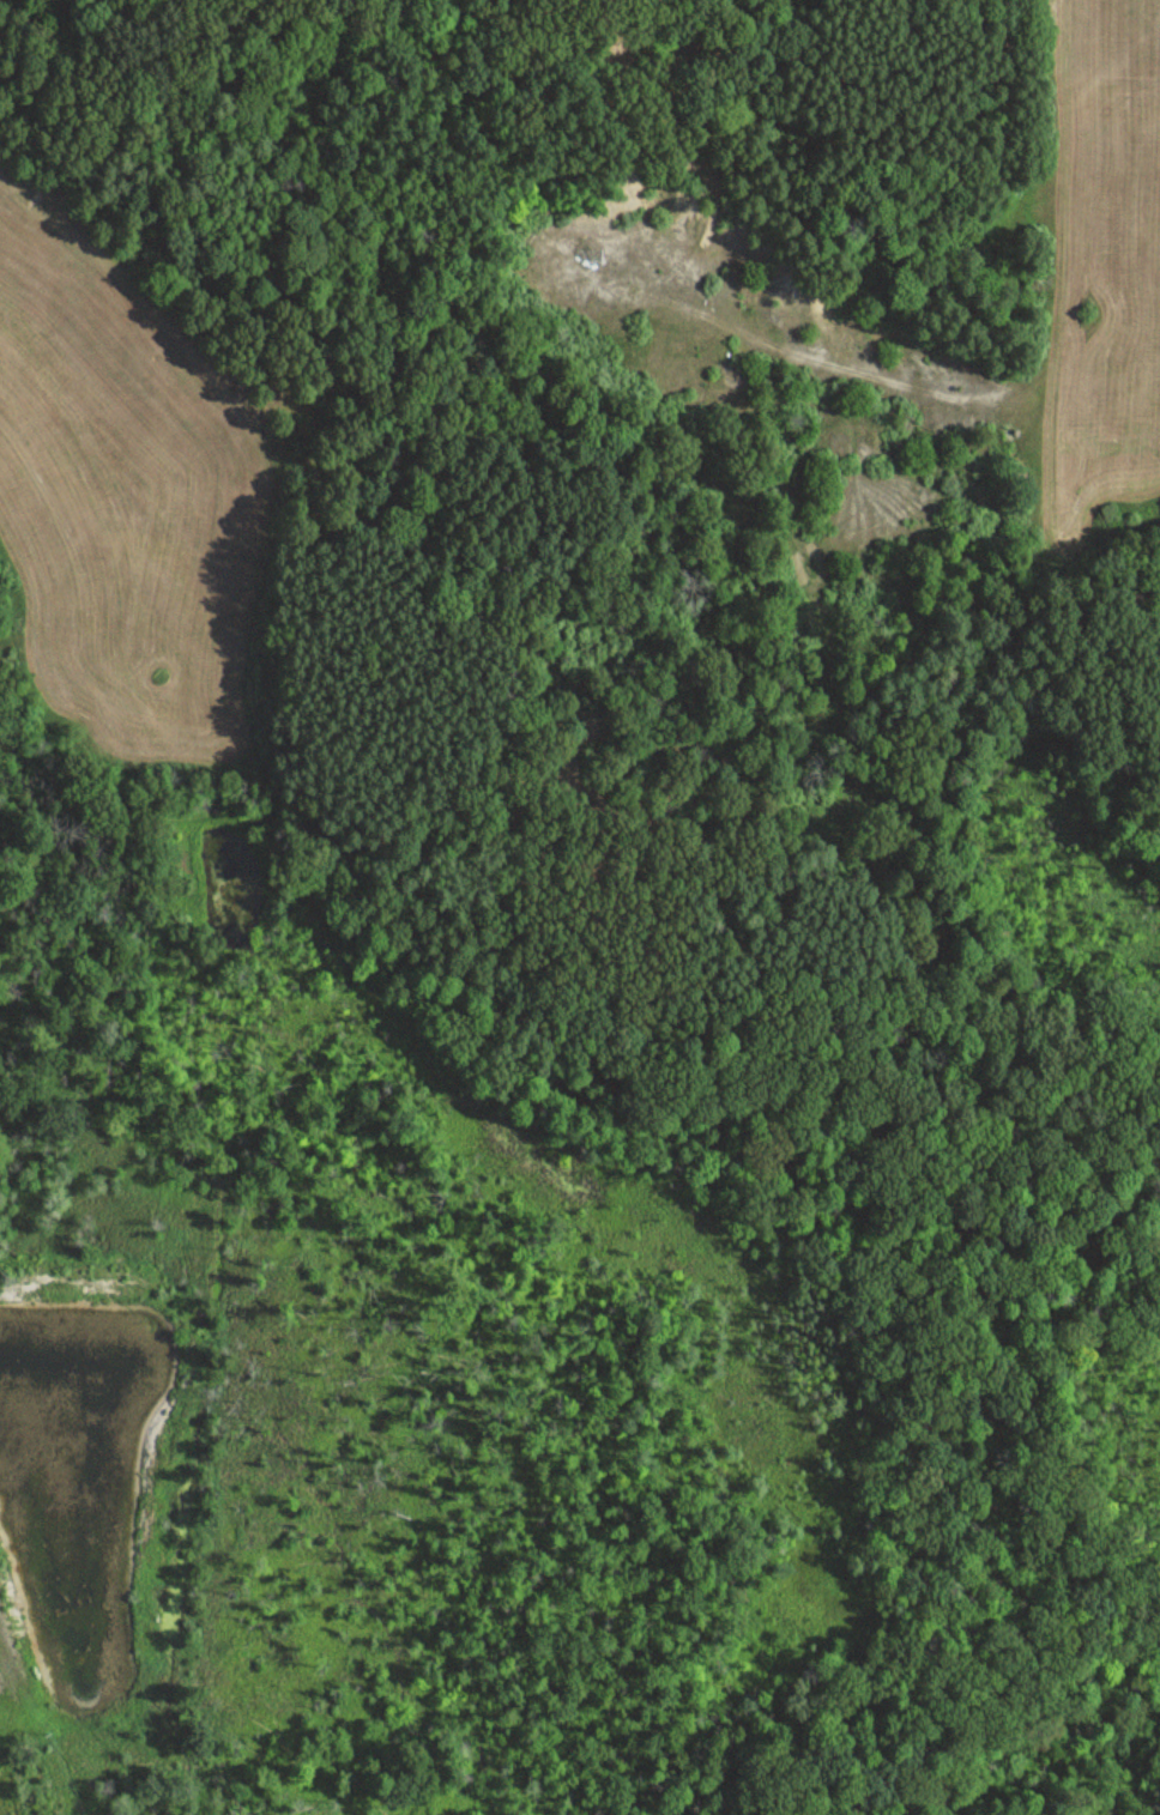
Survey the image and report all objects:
quarry: (615, 285)
road: (1025, 370)

